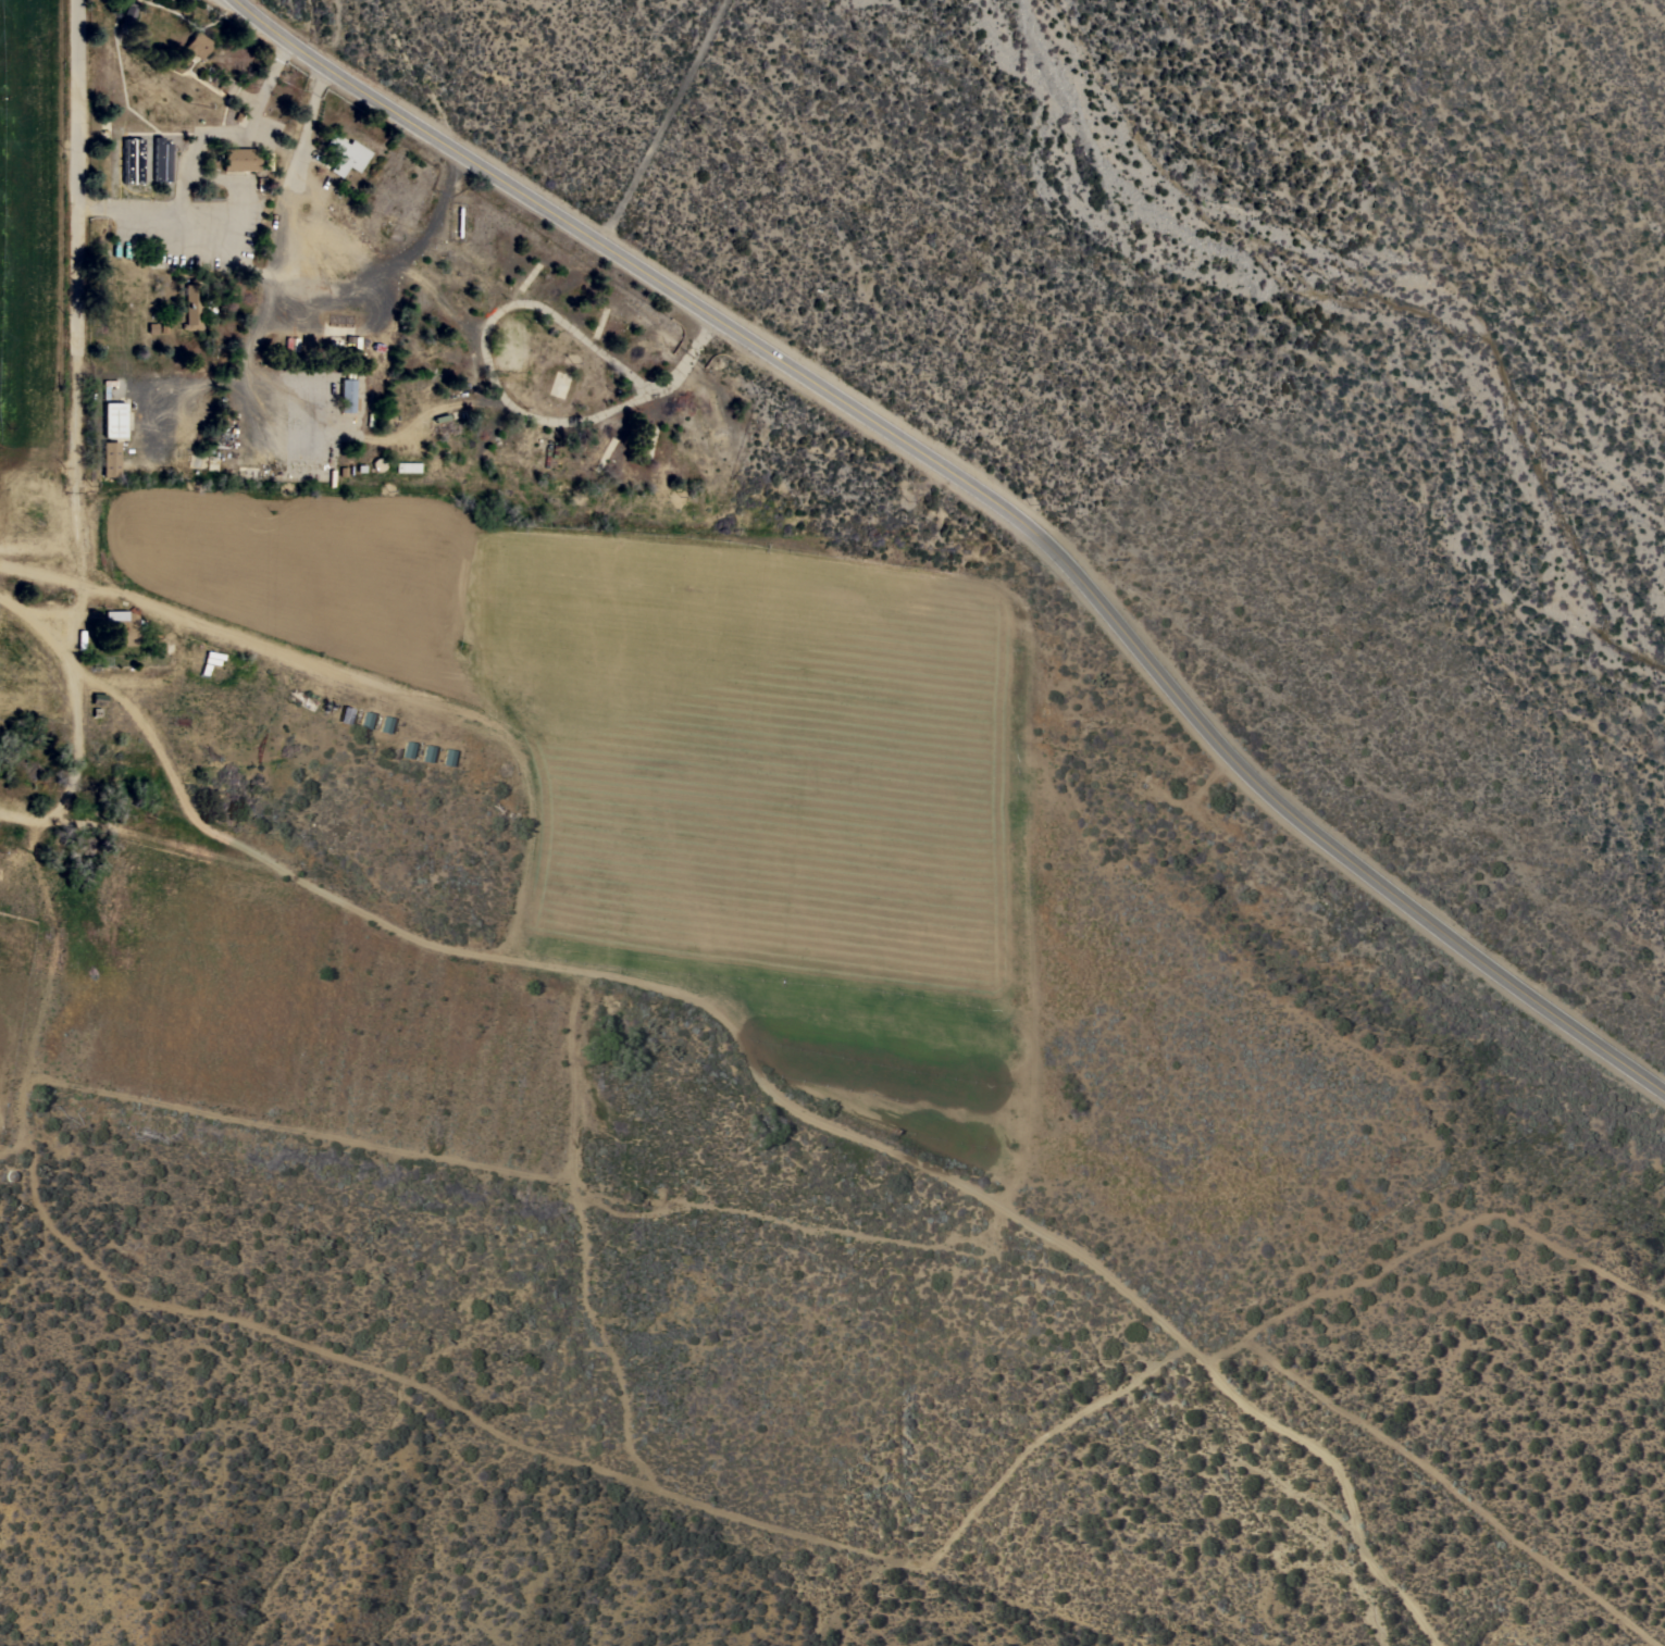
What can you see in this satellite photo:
building: (195, 47)
building: (227, 85)
road: (256, 111)
building: (345, 153)
building: (240, 159)
road: (396, 259)
road: (279, 261)
building: (191, 308)
road: (79, 340)
building: (355, 350)
road: (250, 360)
road: (496, 389)
building: (347, 395)
building: (114, 419)
building: (110, 459)
building: (378, 463)
building: (407, 467)
road: (987, 501)
road: (42, 574)
road: (41, 618)
building: (123, 631)
building: (99, 698)
building: (346, 714)
building: (366, 720)
building: (386, 723)
building: (409, 749)
building: (428, 752)
building: (449, 757)
road: (74, 776)
crop: (524, 796)
road: (530, 885)

